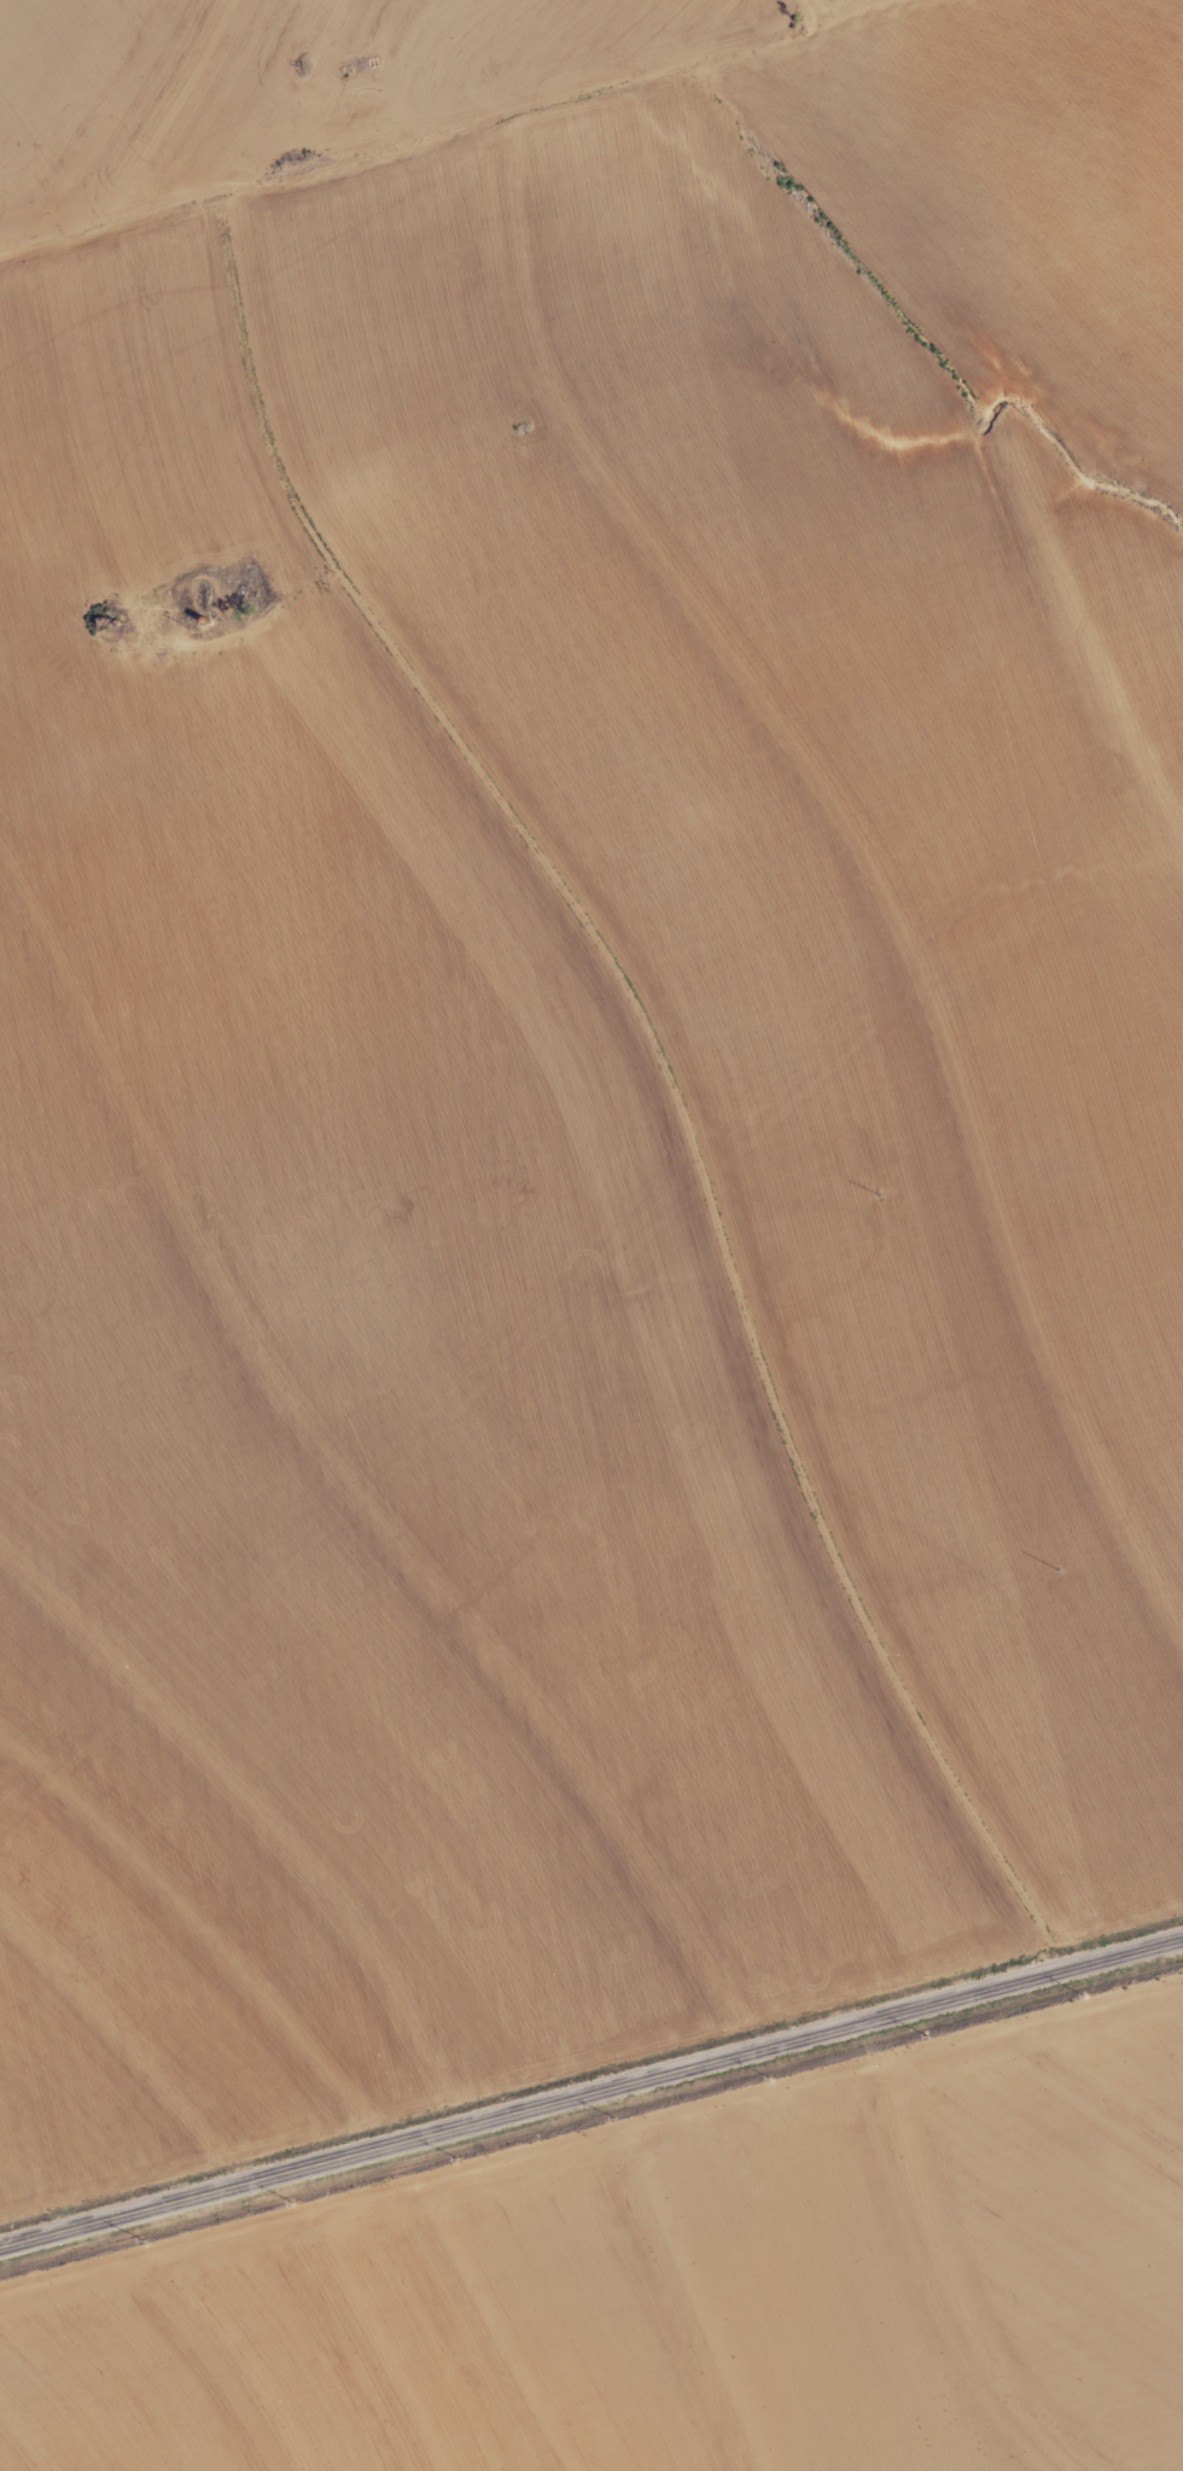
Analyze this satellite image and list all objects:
road: (591, 2092)

